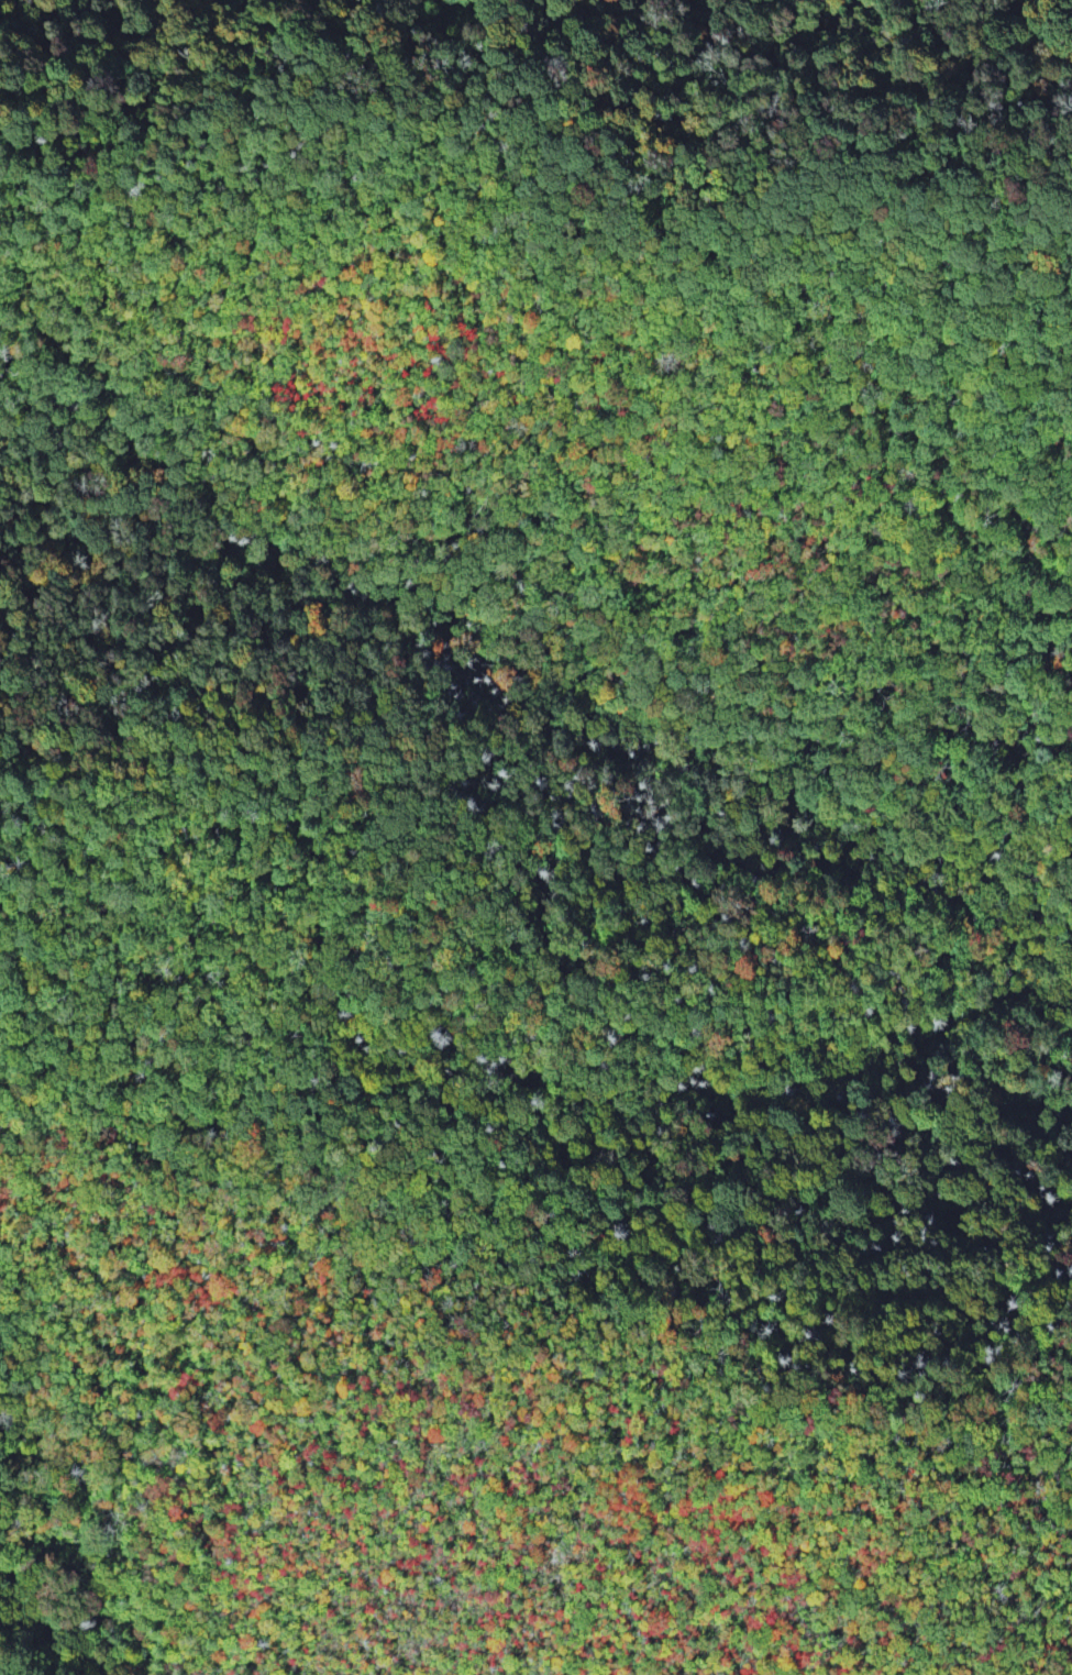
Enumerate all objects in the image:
road: (305, 206)
road: (202, 929)
river: (44, 1628)

